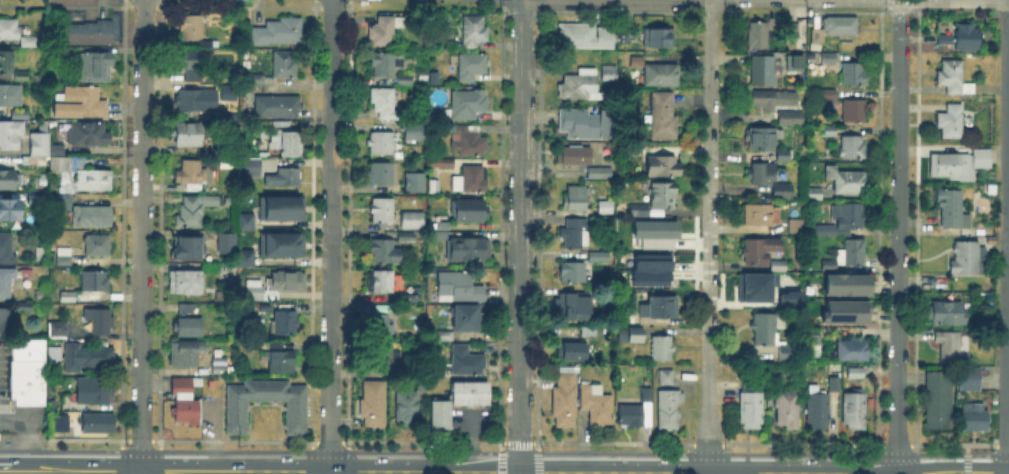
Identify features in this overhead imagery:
building: (191, 27)
building: (841, 29)
building: (384, 30)
building: (8, 31)
building: (90, 32)
building: (793, 32)
building: (279, 33)
building: (473, 33)
building: (758, 36)
building: (585, 37)
building: (942, 37)
building: (818, 39)
building: (968, 39)
building: (28, 40)
building: (659, 40)
building: (825, 55)
building: (829, 59)
building: (7, 63)
building: (637, 63)
building: (797, 63)
building: (191, 64)
building: (386, 64)
building: (284, 66)
building: (96, 67)
building: (472, 67)
building: (763, 71)
building: (610, 74)
building: (854, 74)
building: (662, 76)
building: (22, 77)
building: (953, 79)
building: (256, 80)
building: (405, 80)
building: (580, 87)
building: (231, 94)
building: (827, 94)
building: (11, 96)
building: (774, 101)
building: (195, 102)
building: (80, 103)
building: (385, 103)
building: (468, 105)
building: (278, 107)
building: (855, 112)
building: (21, 116)
building: (663, 117)
building: (791, 119)
road: (1008, 119)
building: (951, 123)
building: (585, 124)
building: (410, 128)
building: (827, 131)
building: (88, 134)
building: (10, 135)
building: (188, 136)
building: (762, 139)
building: (469, 141)
building: (287, 142)
building: (382, 143)
building: (42, 148)
building: (854, 148)
building: (575, 156)
building: (784, 156)
building: (439, 163)
building: (959, 164)
building: (251, 166)
building: (664, 168)
building: (379, 172)
building: (82, 174)
building: (596, 174)
building: (763, 174)
building: (192, 176)
building: (284, 178)
building: (10, 180)
building: (412, 180)
building: (475, 180)
building: (847, 182)
building: (435, 188)
building: (782, 194)
building: (814, 194)
building: (664, 196)
building: (576, 198)
building: (228, 200)
building: (64, 202)
building: (279, 207)
building: (606, 207)
building: (195, 209)
building: (9, 210)
building: (953, 210)
building: (383, 211)
building: (640, 211)
building: (471, 212)
building: (760, 215)
building: (93, 217)
building: (244, 220)
building: (413, 221)
building: (843, 221)
building: (797, 226)
building: (653, 232)
building: (575, 235)
road: (331, 236)
road: (898, 236)
road: (142, 237)
building: (406, 237)
road: (519, 237)
road: (710, 237)
road: (1008, 240)
building: (224, 241)
building: (279, 243)
building: (97, 246)
building: (8, 250)
building: (188, 251)
building: (469, 251)
building: (761, 251)
building: (384, 253)
building: (40, 254)
building: (244, 257)
building: (848, 257)
building: (64, 258)
building: (600, 258)
building: (967, 259)
building: (777, 265)
building: (649, 269)
building: (576, 273)
building: (96, 282)
building: (385, 282)
building: (9, 284)
building: (187, 284)
building: (761, 284)
building: (850, 285)
building: (277, 286)
building: (460, 288)
building: (41, 296)
building: (788, 296)
building: (68, 298)
building: (23, 307)
building: (576, 307)
building: (661, 308)
building: (186, 309)
building: (848, 313)
building: (947, 315)
building: (629, 318)
building: (467, 319)
building: (4, 322)
building: (99, 323)
building: (284, 323)
building: (383, 323)
building: (188, 328)
building: (768, 329)
building: (58, 331)
building: (589, 332)
building: (829, 334)
building: (622, 335)
building: (637, 335)
building: (443, 337)
building: (274, 345)
building: (953, 347)
building: (662, 349)
building: (847, 351)
building: (570, 352)
building: (789, 352)
building: (185, 354)
building: (84, 355)
road: (1007, 357)
building: (385, 359)
building: (220, 360)
building: (282, 363)
building: (463, 364)
building: (219, 368)
building: (28, 371)
building: (857, 374)
building: (667, 379)
building: (970, 380)
building: (835, 385)
building: (91, 389)
building: (469, 395)
building: (186, 401)
building: (564, 401)
building: (939, 401)
building: (374, 405)
building: (408, 405)
building: (596, 405)
building: (752, 407)
building: (819, 409)
building: (854, 409)
building: (669, 410)
building: (788, 410)
building: (638, 412)
building: (441, 415)
building: (237, 419)
building: (58, 421)
building: (975, 422)
building: (97, 423)
road: (60, 437)
road: (139, 439)
road: (233, 439)
road: (328, 440)
road: (442, 440)
road: (611, 441)
road: (706, 442)
road: (800, 443)
road: (894, 443)
road: (953, 443)
road: (1001, 443)
road: (60, 449)
road: (140, 449)
road: (233, 450)
road: (329, 451)
road: (519, 452)
road: (707, 453)
road: (799, 453)
road: (894, 454)
road: (954, 454)
road: (1000, 454)
road: (120, 456)
road: (158, 456)
road: (309, 457)
road: (348, 457)
road: (498, 457)
road: (538, 457)
road: (965, 458)
road: (953, 465)
road: (23, 467)
road: (188, 467)
traffic signals: (521, 473)
road: (523, 473)

